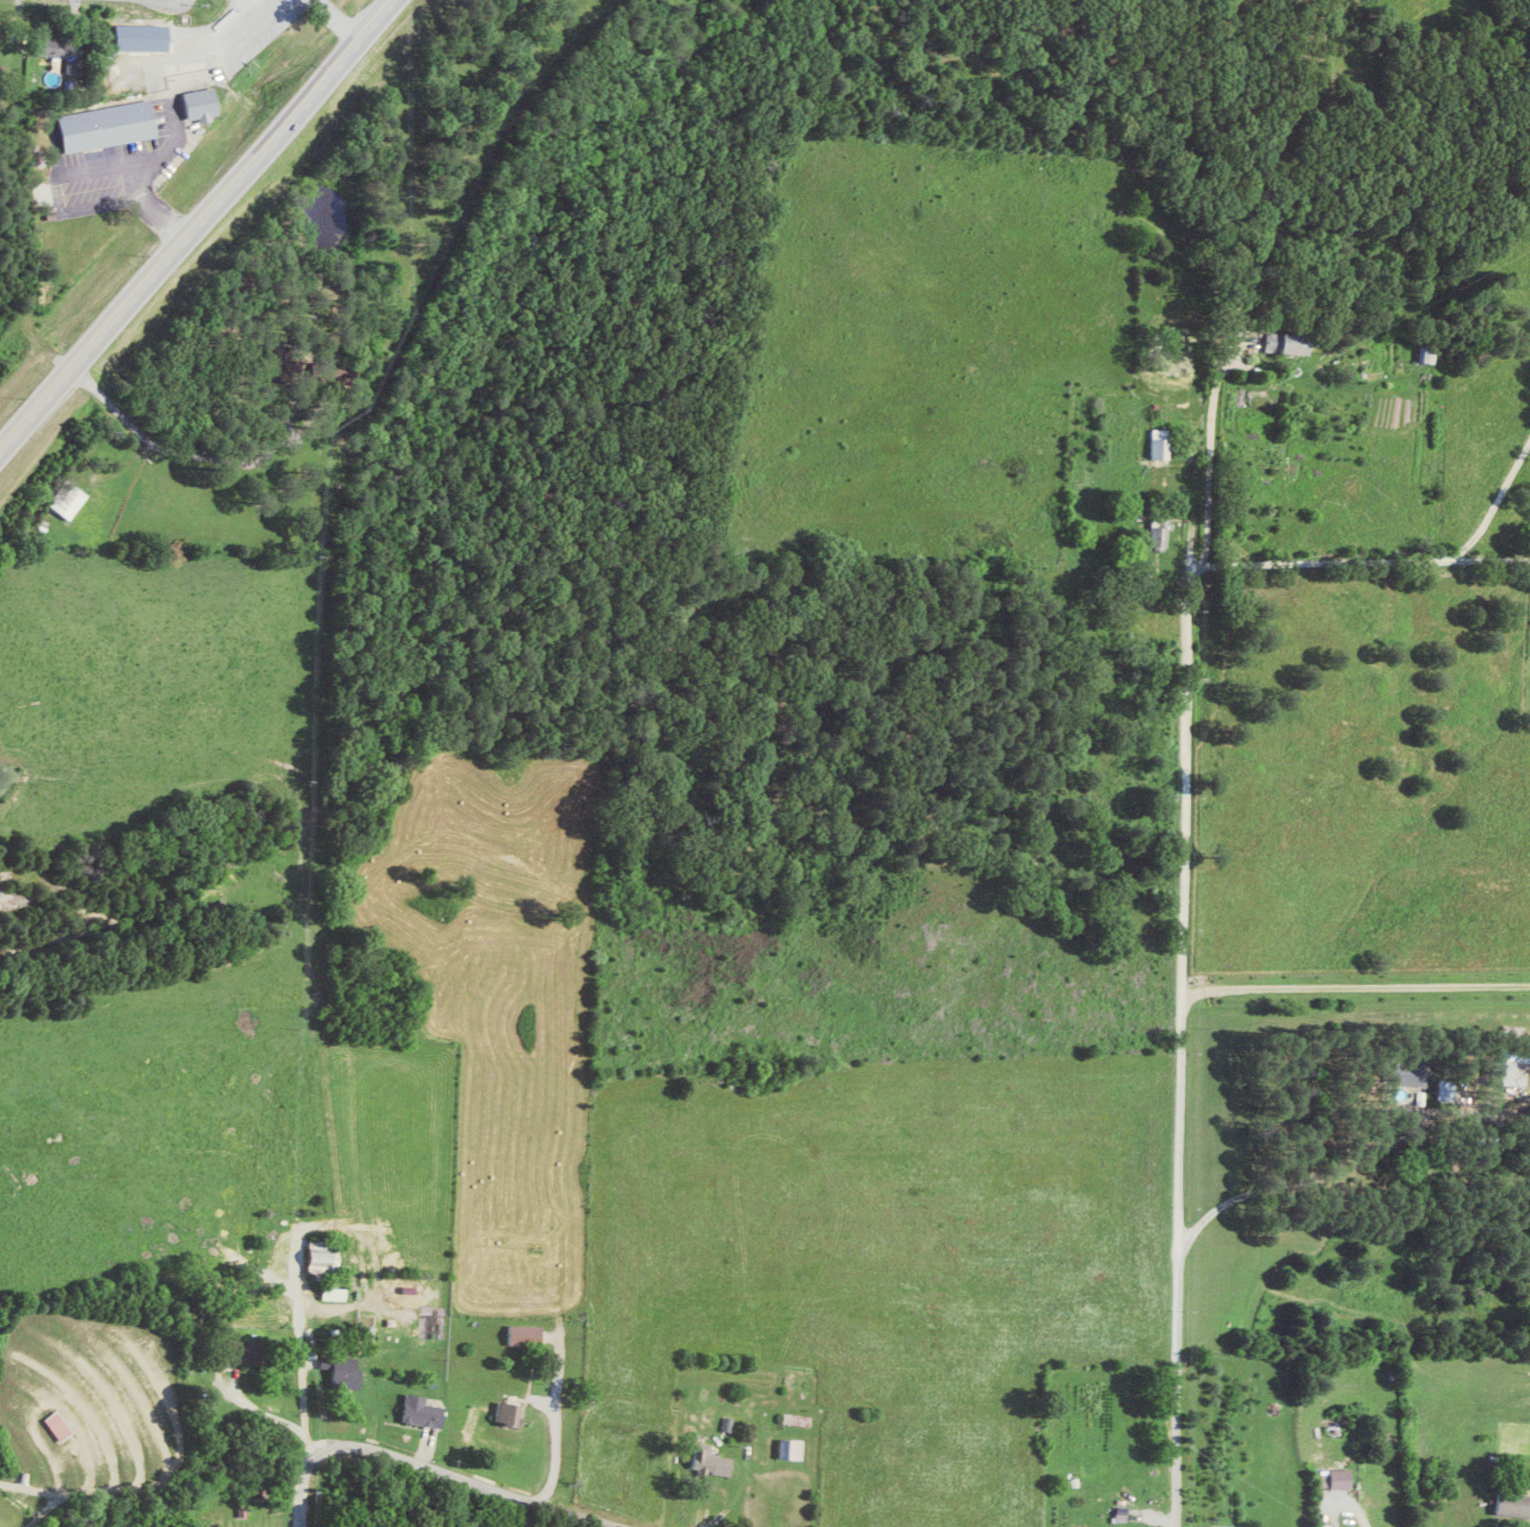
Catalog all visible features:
building: (65, 51)
building: (202, 104)
building: (111, 125)
road: (197, 222)
building: (1291, 343)
building: (1433, 354)
building: (284, 363)
building: (1165, 444)
road: (1214, 445)
building: (73, 499)
building: (1165, 532)
road: (1492, 558)
road: (1394, 559)
road: (1356, 981)
road: (1182, 1044)
building: (1513, 1071)
building: (1413, 1072)
building: (1452, 1089)
road: (1325, 1181)
building: (327, 1255)
building: (415, 1291)
building: (339, 1293)
building: (528, 1334)
building: (250, 1351)
building: (348, 1371)
road: (303, 1382)
building: (426, 1410)
building: (511, 1413)
building: (799, 1419)
road: (551, 1424)
building: (62, 1425)
building: (793, 1448)
building: (712, 1460)
road: (463, 1478)
building: (1339, 1478)
road: (299, 1490)
building: (1514, 1504)

